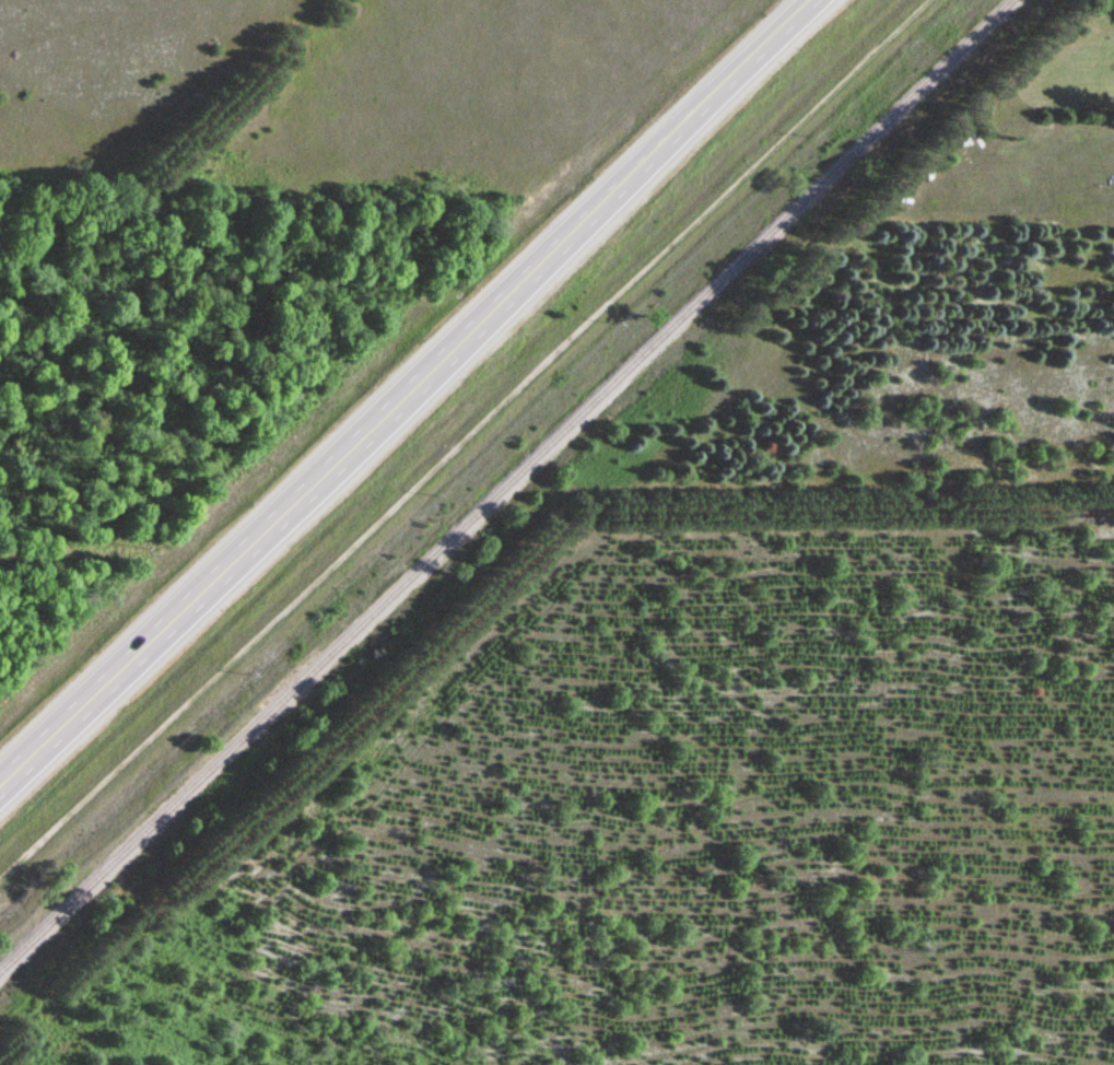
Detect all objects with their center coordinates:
road: (402, 387)
road: (461, 443)
railway: (504, 484)

